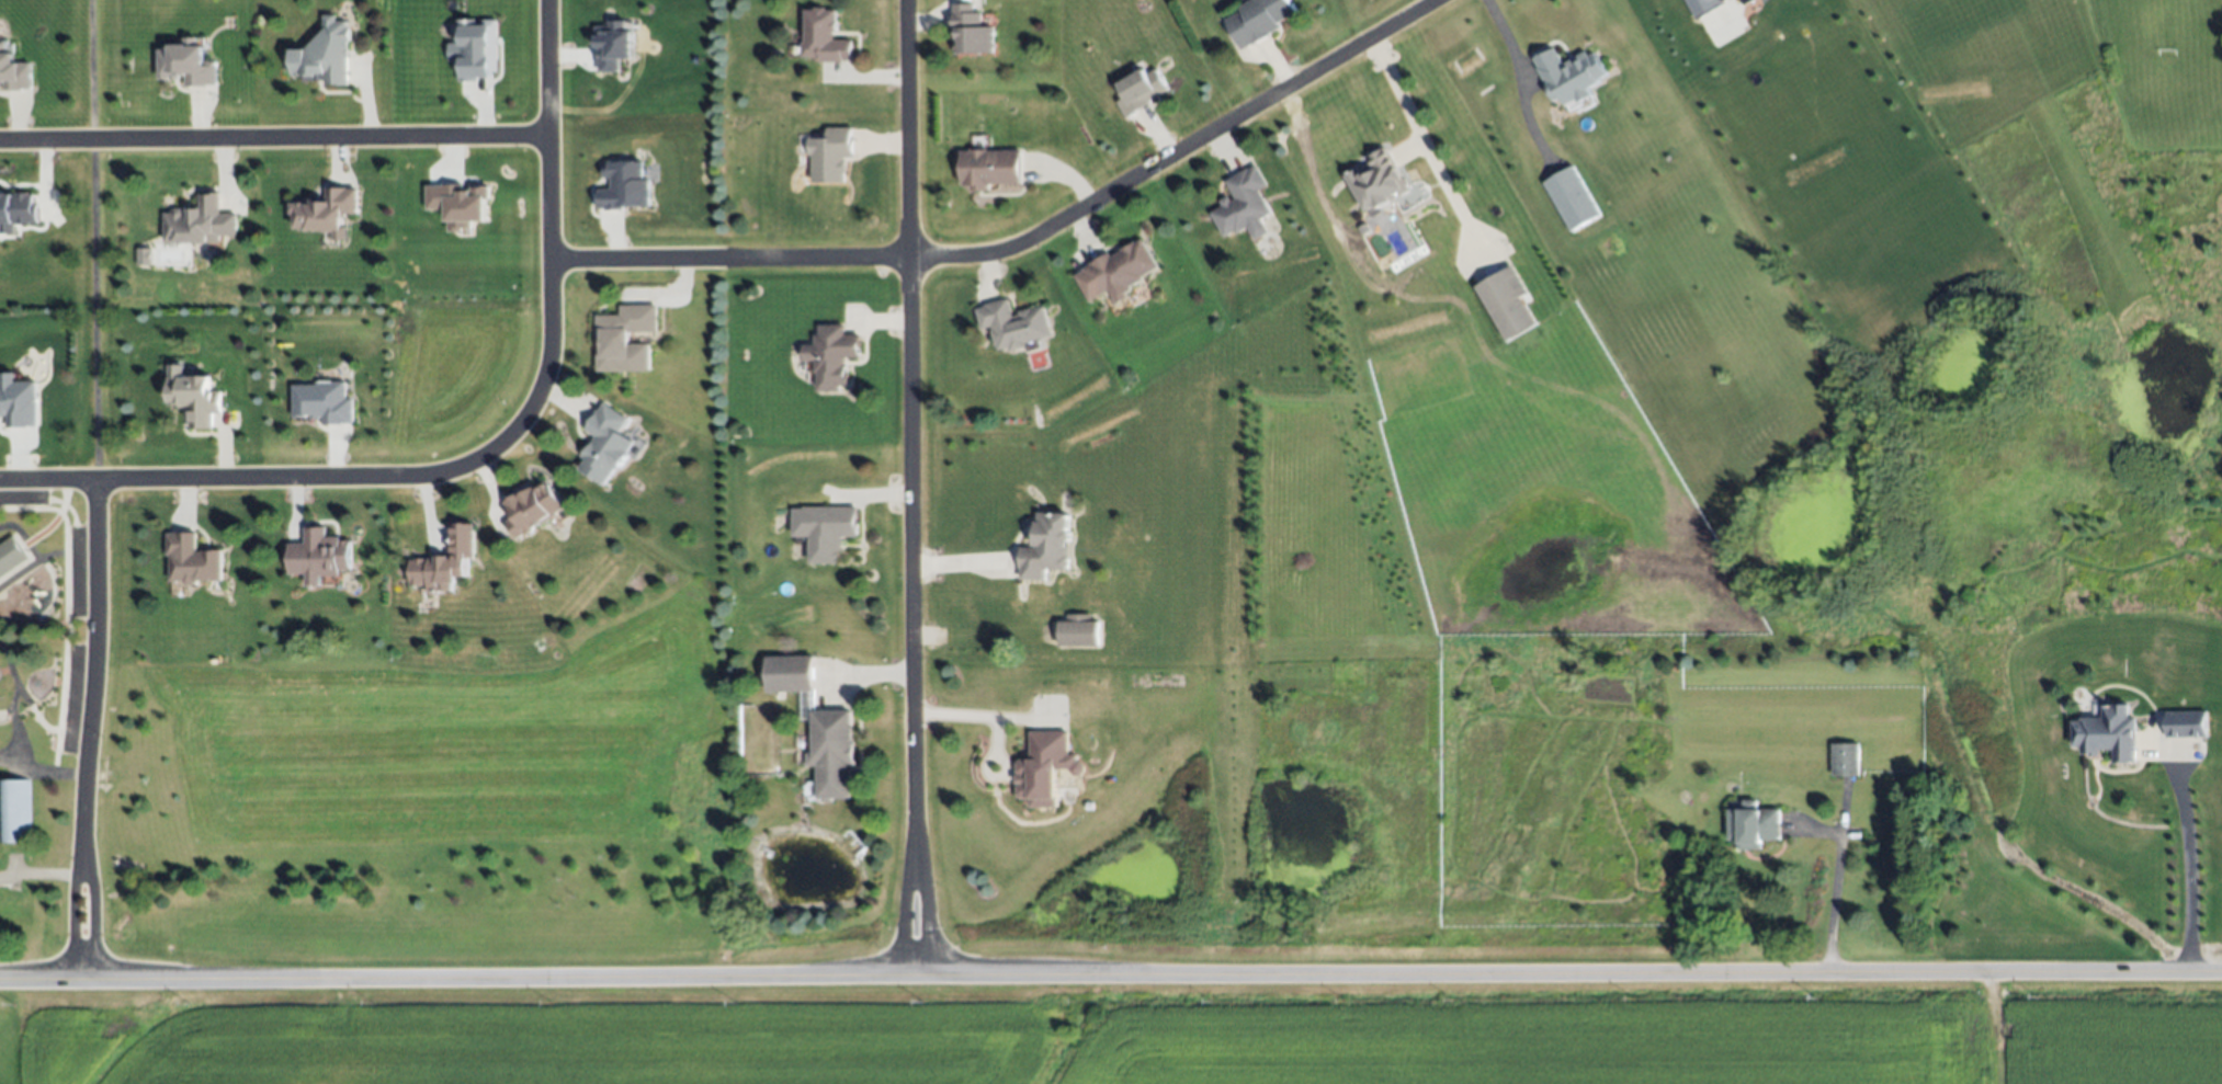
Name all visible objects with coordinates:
building: (1746, 1)
building: (1704, 5)
building: (1258, 20)
building: (972, 31)
building: (824, 36)
building: (613, 46)
building: (325, 55)
building: (186, 65)
building: (13, 70)
building: (1569, 77)
road: (1527, 81)
building: (1142, 90)
road: (271, 137)
road: (1424, 149)
building: (830, 155)
building: (990, 168)
building: (1380, 180)
building: (624, 186)
building: (1571, 199)
building: (458, 205)
building: (1245, 205)
building: (16, 210)
building: (327, 213)
building: (203, 221)
road: (90, 240)
road: (1022, 241)
building: (144, 256)
building: (1121, 270)
building: (1507, 300)
building: (1012, 324)
building: (625, 335)
building: (831, 356)
building: (194, 395)
building: (18, 402)
building: (322, 403)
road: (907, 427)
building: (605, 442)
road: (478, 457)
building: (533, 505)
building: (824, 529)
building: (1044, 548)
building: (320, 554)
building: (10, 556)
building: (193, 559)
building: (449, 561)
park: (46, 621)
building: (1080, 630)
building: (790, 673)
road: (90, 675)
road: (972, 714)
building: (2186, 724)
building: (2109, 735)
building: (832, 753)
building: (1845, 758)
building: (1048, 765)
building: (14, 811)
building: (1751, 824)
road: (2191, 866)
road: (38, 871)
road: (1834, 905)
road: (899, 916)
road: (921, 917)
road: (68, 923)
road: (90, 924)
road: (1110, 978)

